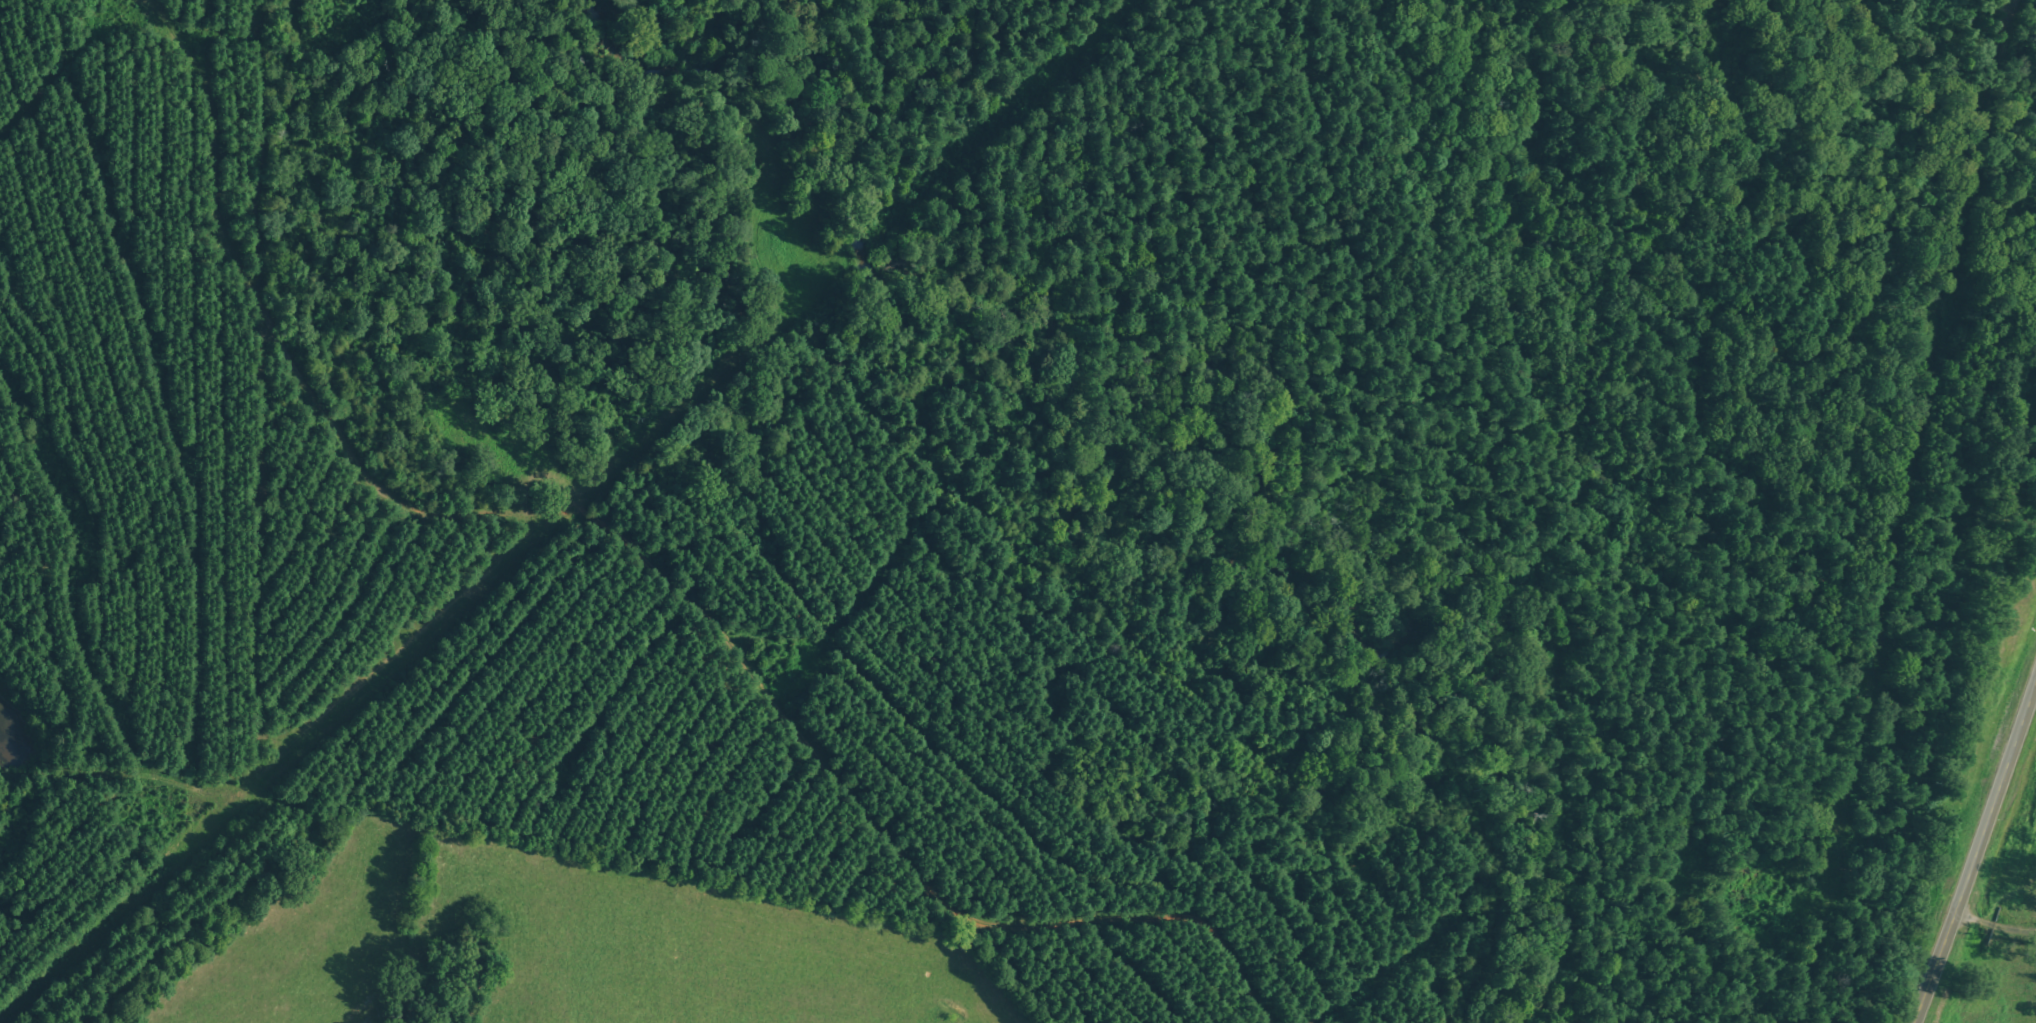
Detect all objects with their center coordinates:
road: (1977, 864)
road: (1999, 919)

